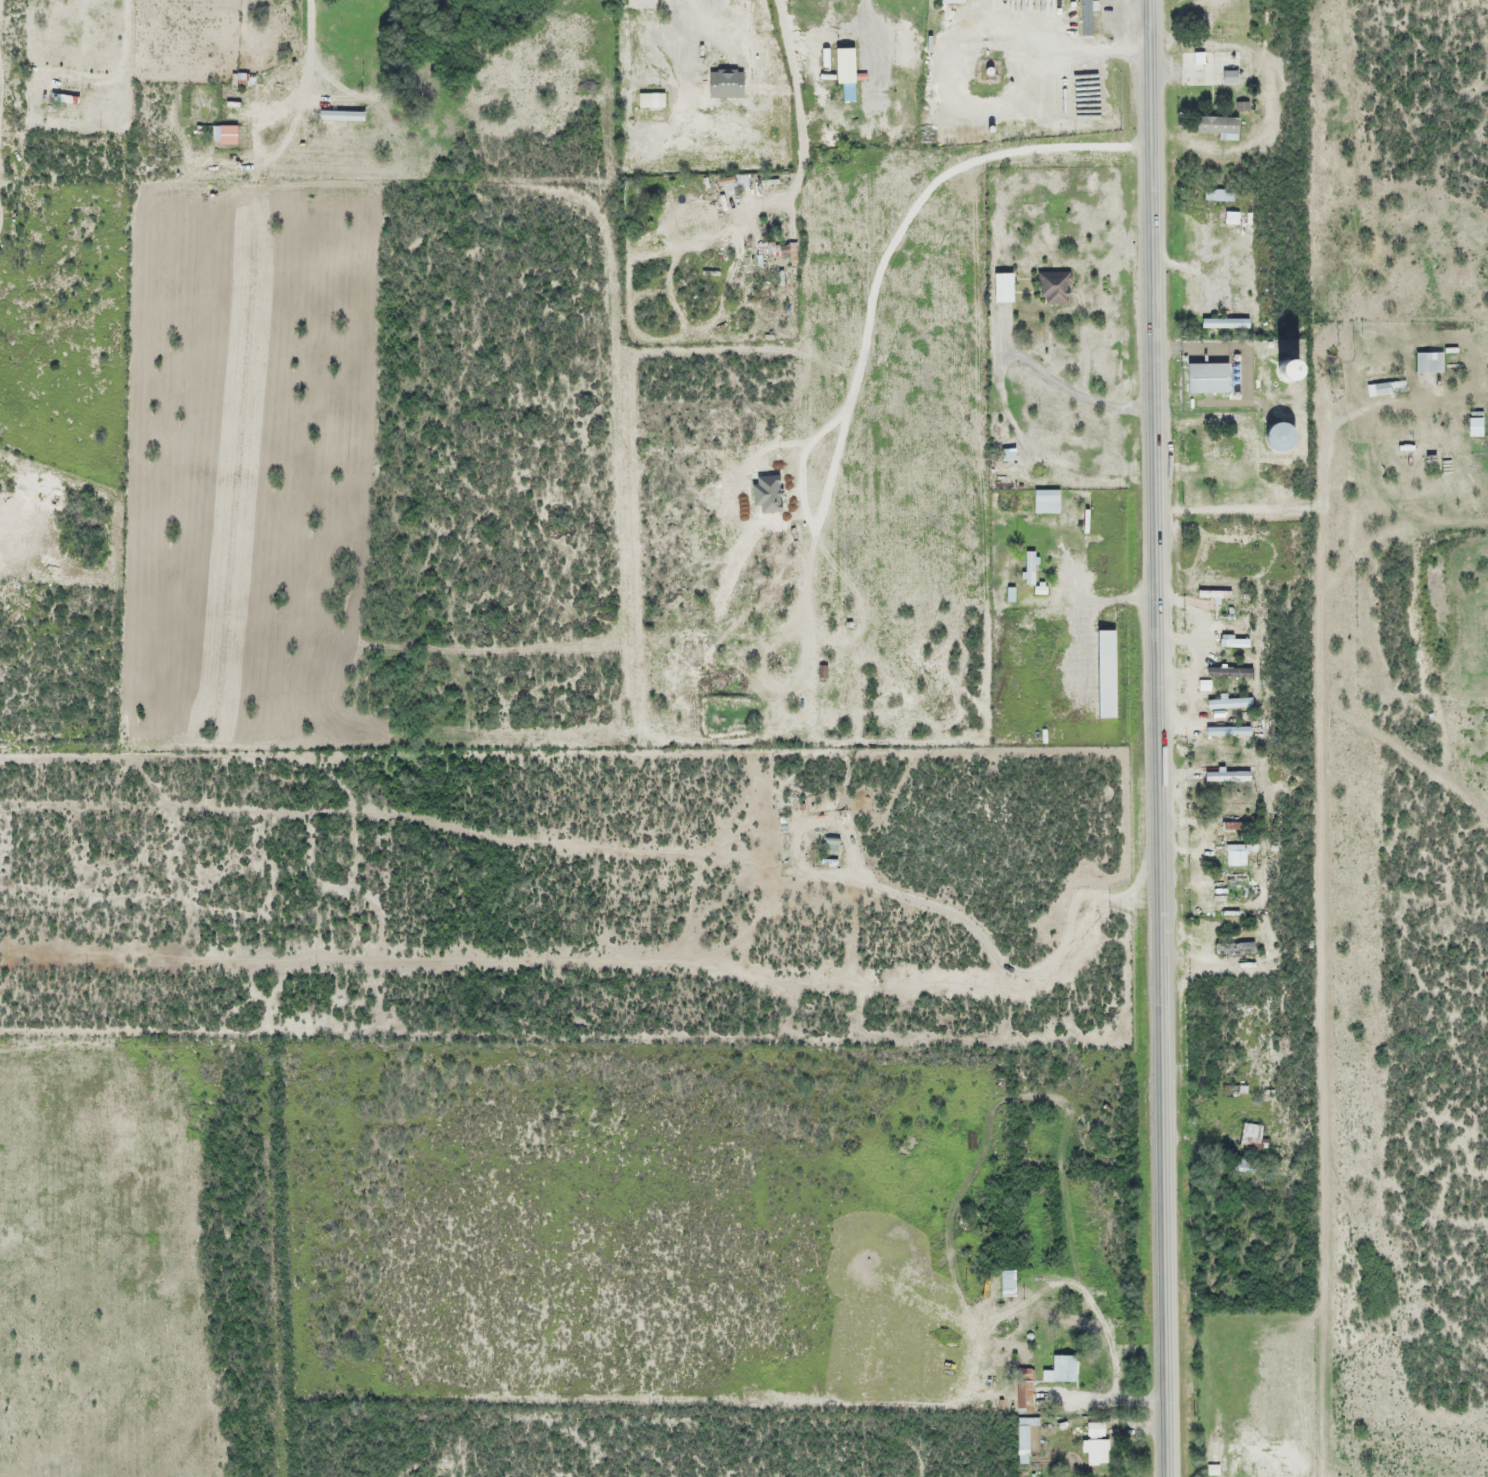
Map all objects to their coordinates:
building: (948, 1)
building: (639, 5)
building: (1084, 18)
building: (622, 43)
building: (841, 66)
building: (1222, 68)
building: (1192, 69)
building: (648, 100)
building: (222, 135)
building: (1216, 196)
building: (1000, 288)
building: (1052, 288)
building: (1427, 363)
building: (1419, 451)
building: (1005, 456)
building: (1213, 461)
building: (1246, 472)
building: (1043, 502)
building: (1028, 569)
building: (1235, 643)
building: (1101, 674)
building: (1228, 703)
road: (1157, 738)
building: (1224, 777)
building: (1230, 826)
building: (1231, 885)
building: (1249, 1135)
building: (1239, 1166)
building: (1005, 1284)
building: (1060, 1369)
building: (1023, 1396)
building: (1094, 1443)

